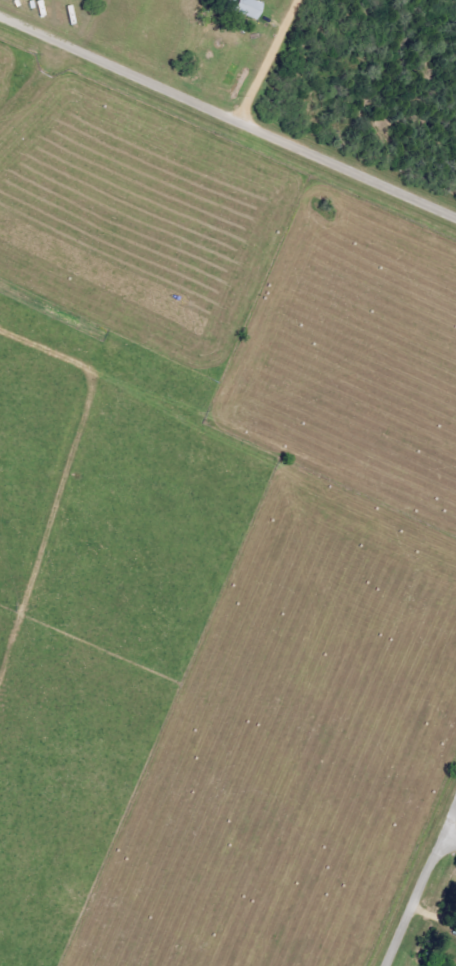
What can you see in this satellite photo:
building: (243, 10)
road: (268, 61)
road: (33, 84)
road: (228, 117)
road: (452, 828)
road: (418, 888)

